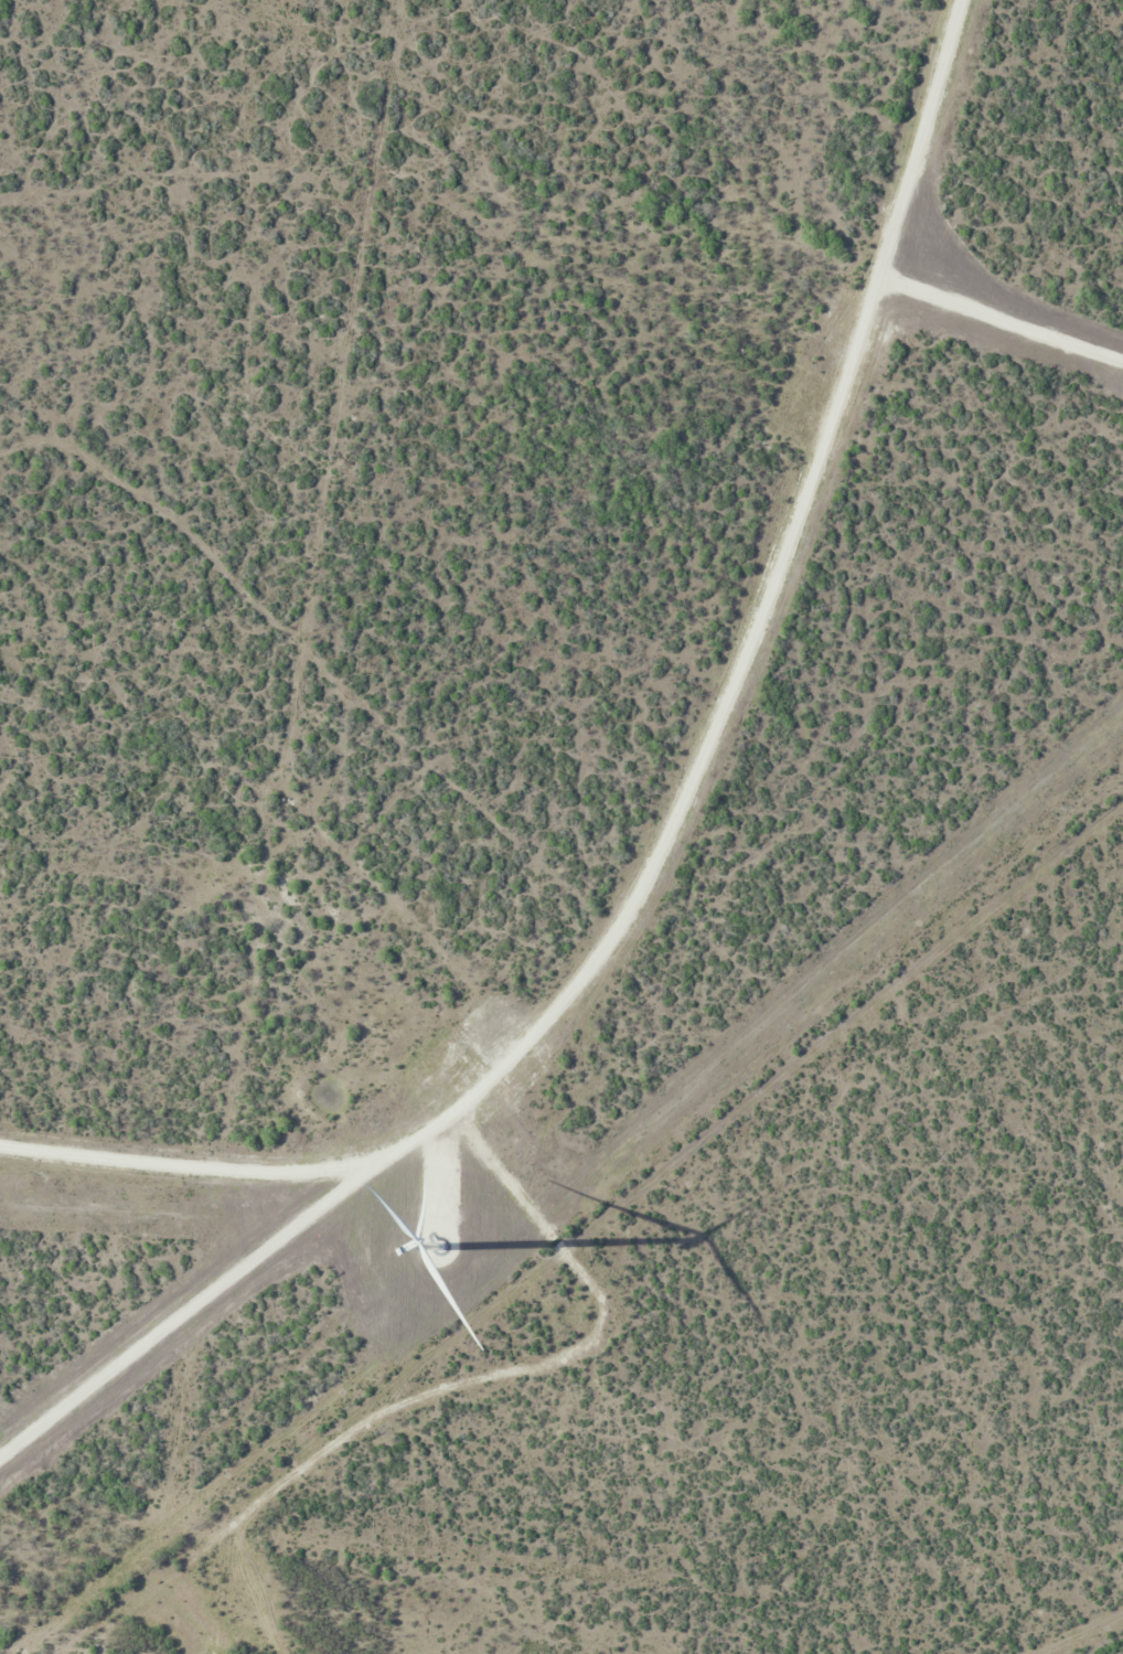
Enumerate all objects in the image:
wind turbine: (434, 1247)

